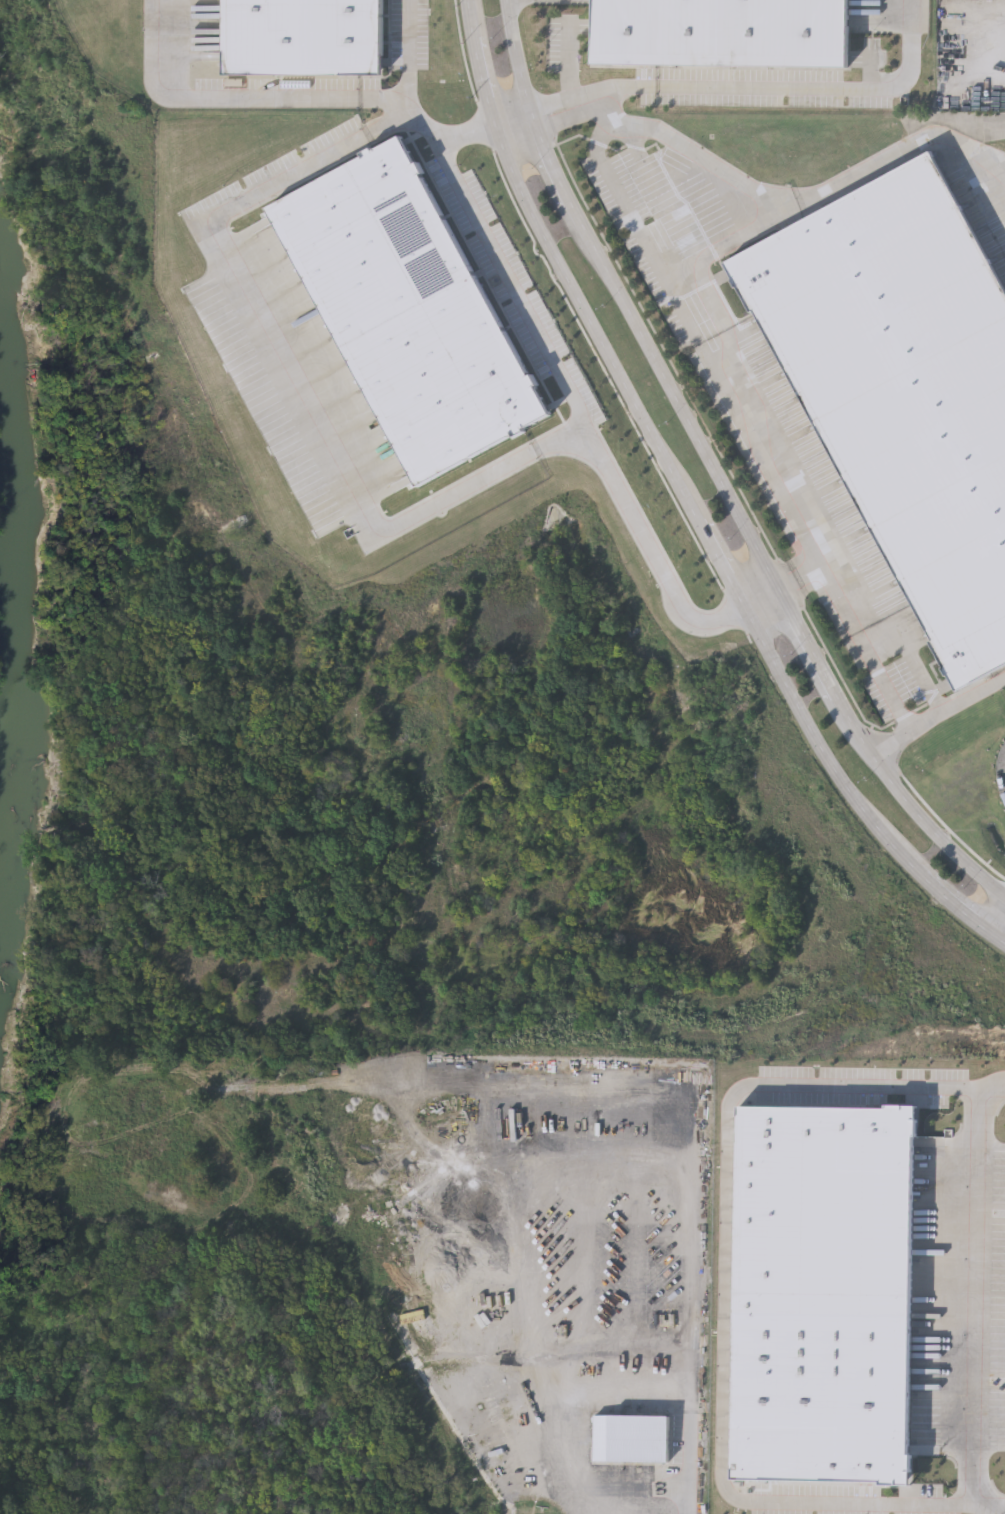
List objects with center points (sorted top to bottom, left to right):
road: (472, 21)
building: (718, 29)
building: (303, 36)
road: (517, 61)
road: (571, 68)
road: (485, 86)
road: (782, 90)
road: (409, 107)
road: (518, 125)
road: (556, 164)
road: (775, 197)
road: (628, 204)
road: (707, 257)
building: (407, 309)
road: (594, 328)
road: (286, 385)
building: (902, 388)
road: (576, 412)
road: (811, 535)
road: (724, 564)
road: (767, 567)
road: (803, 579)
road: (763, 599)
river: (27, 650)
road: (938, 716)
road: (826, 751)
road: (963, 912)
road: (1004, 938)
road: (1004, 940)
road: (886, 1078)
road: (725, 1293)
building: (826, 1295)
road: (981, 1299)
road: (628, 1394)
building: (636, 1439)
road: (872, 1500)

